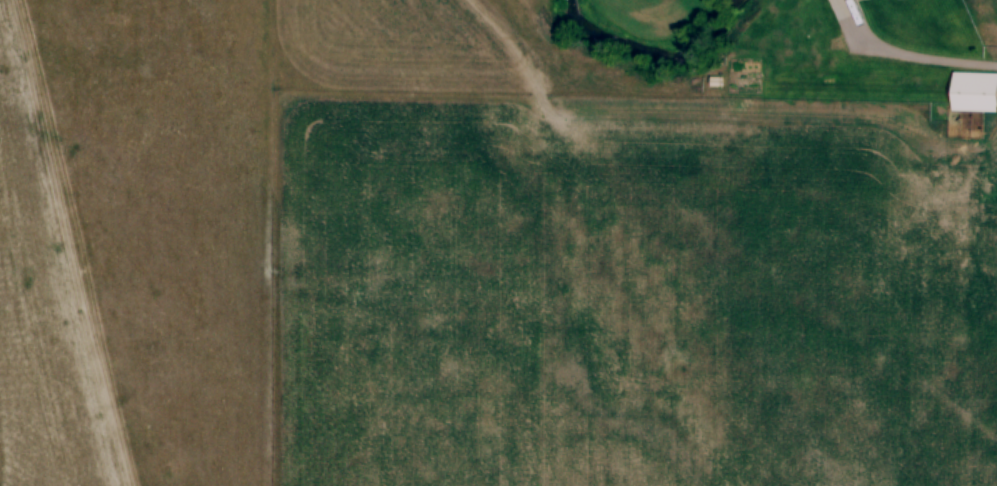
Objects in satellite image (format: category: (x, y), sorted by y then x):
building: (825, 0)
building: (974, 99)

